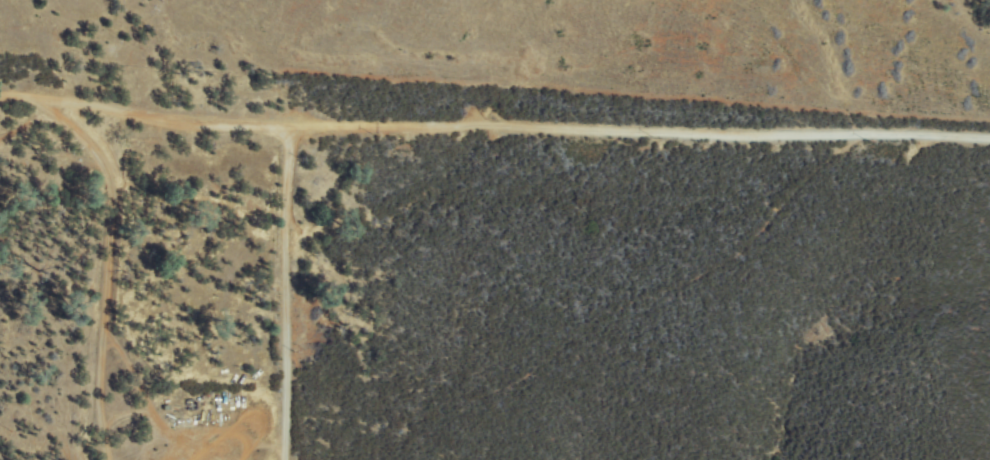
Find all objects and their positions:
road: (494, 127)

